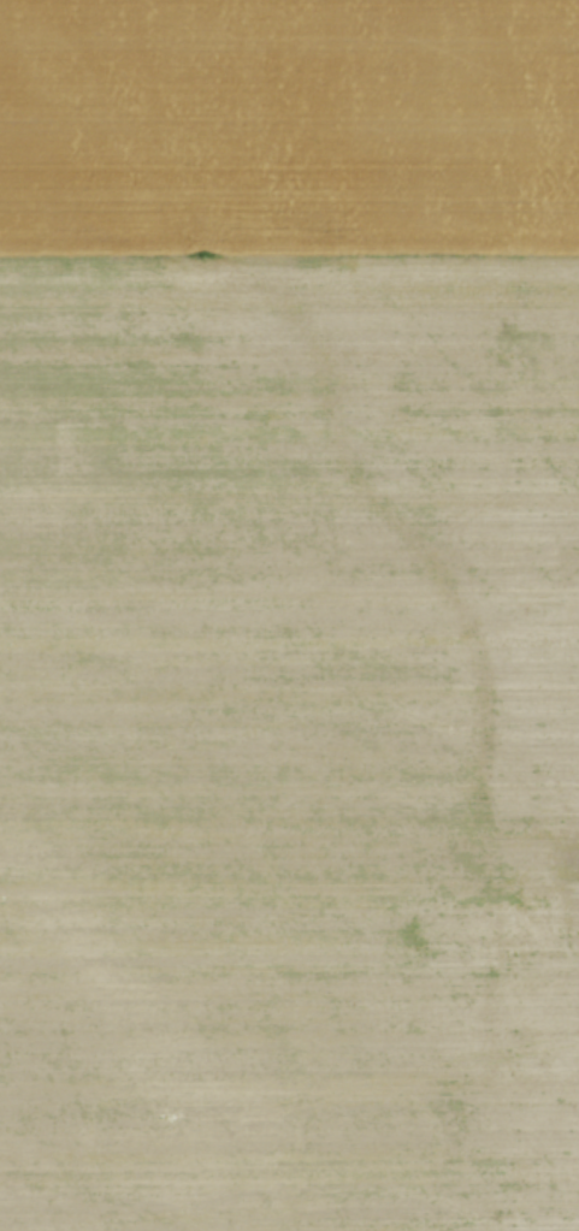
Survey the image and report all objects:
crop: (289, 615)

